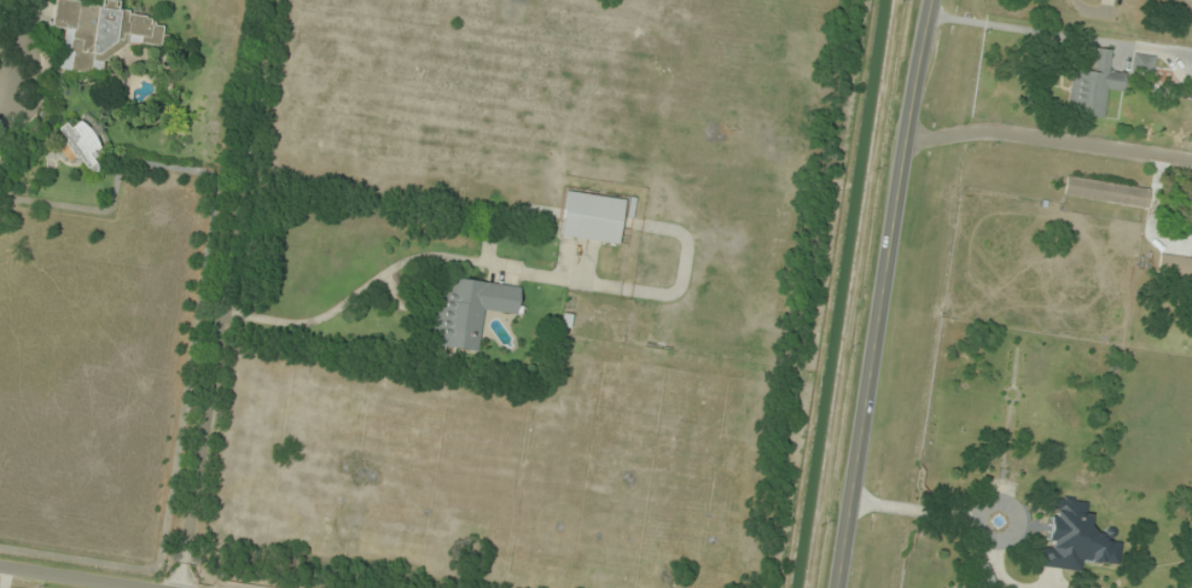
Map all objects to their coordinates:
building: (101, 34)
building: (1142, 65)
building: (1094, 88)
building: (82, 142)
building: (1107, 193)
building: (593, 219)
road: (883, 293)
building: (470, 312)
building: (1075, 538)
road: (72, 577)

